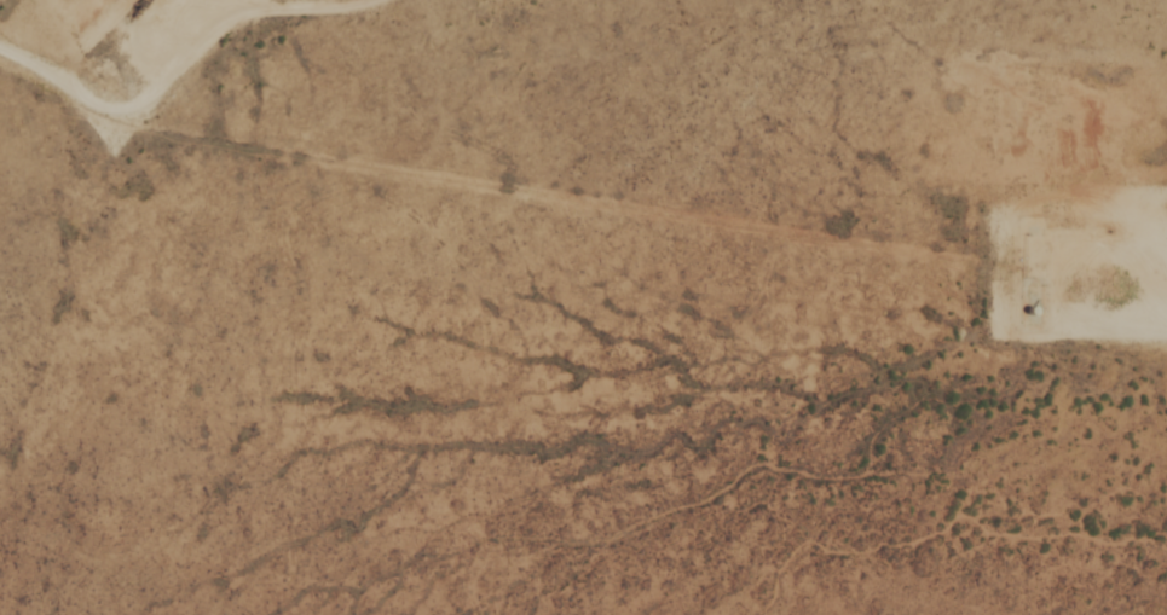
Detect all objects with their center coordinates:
road: (186, 50)

